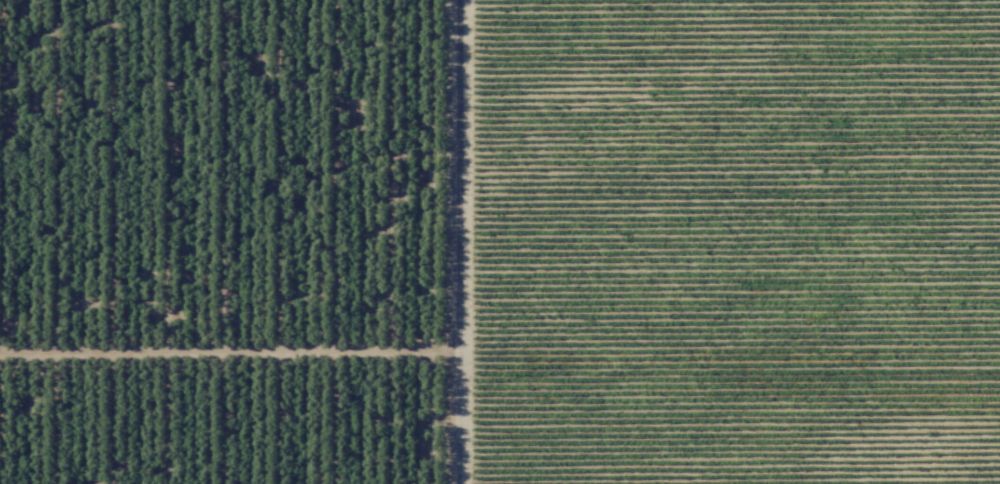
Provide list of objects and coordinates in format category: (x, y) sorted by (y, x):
road: (456, 241)
road: (227, 348)

